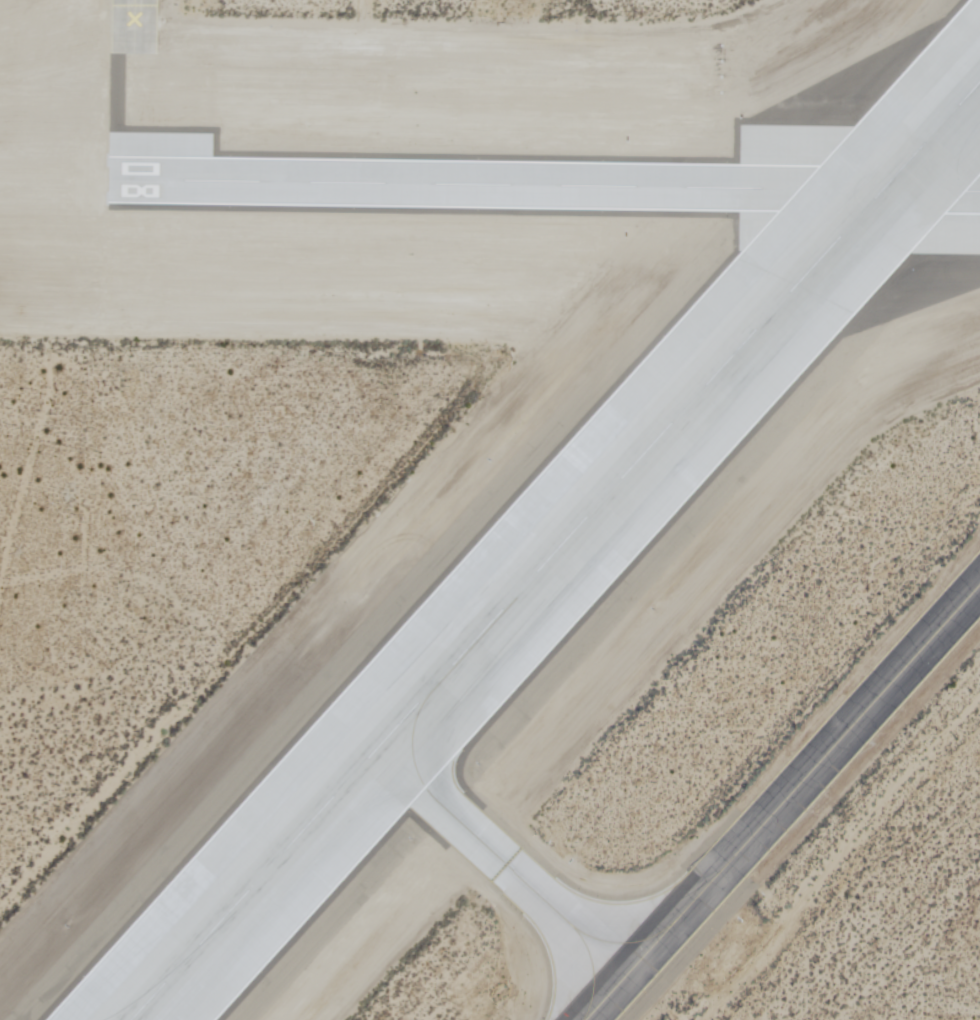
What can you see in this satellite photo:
airport taxiway: (130, 90)
airport runway: (554, 186)
airport: (490, 510)
airport runway: (554, 549)
airport taxiway: (782, 802)
airport taxiway: (526, 885)

